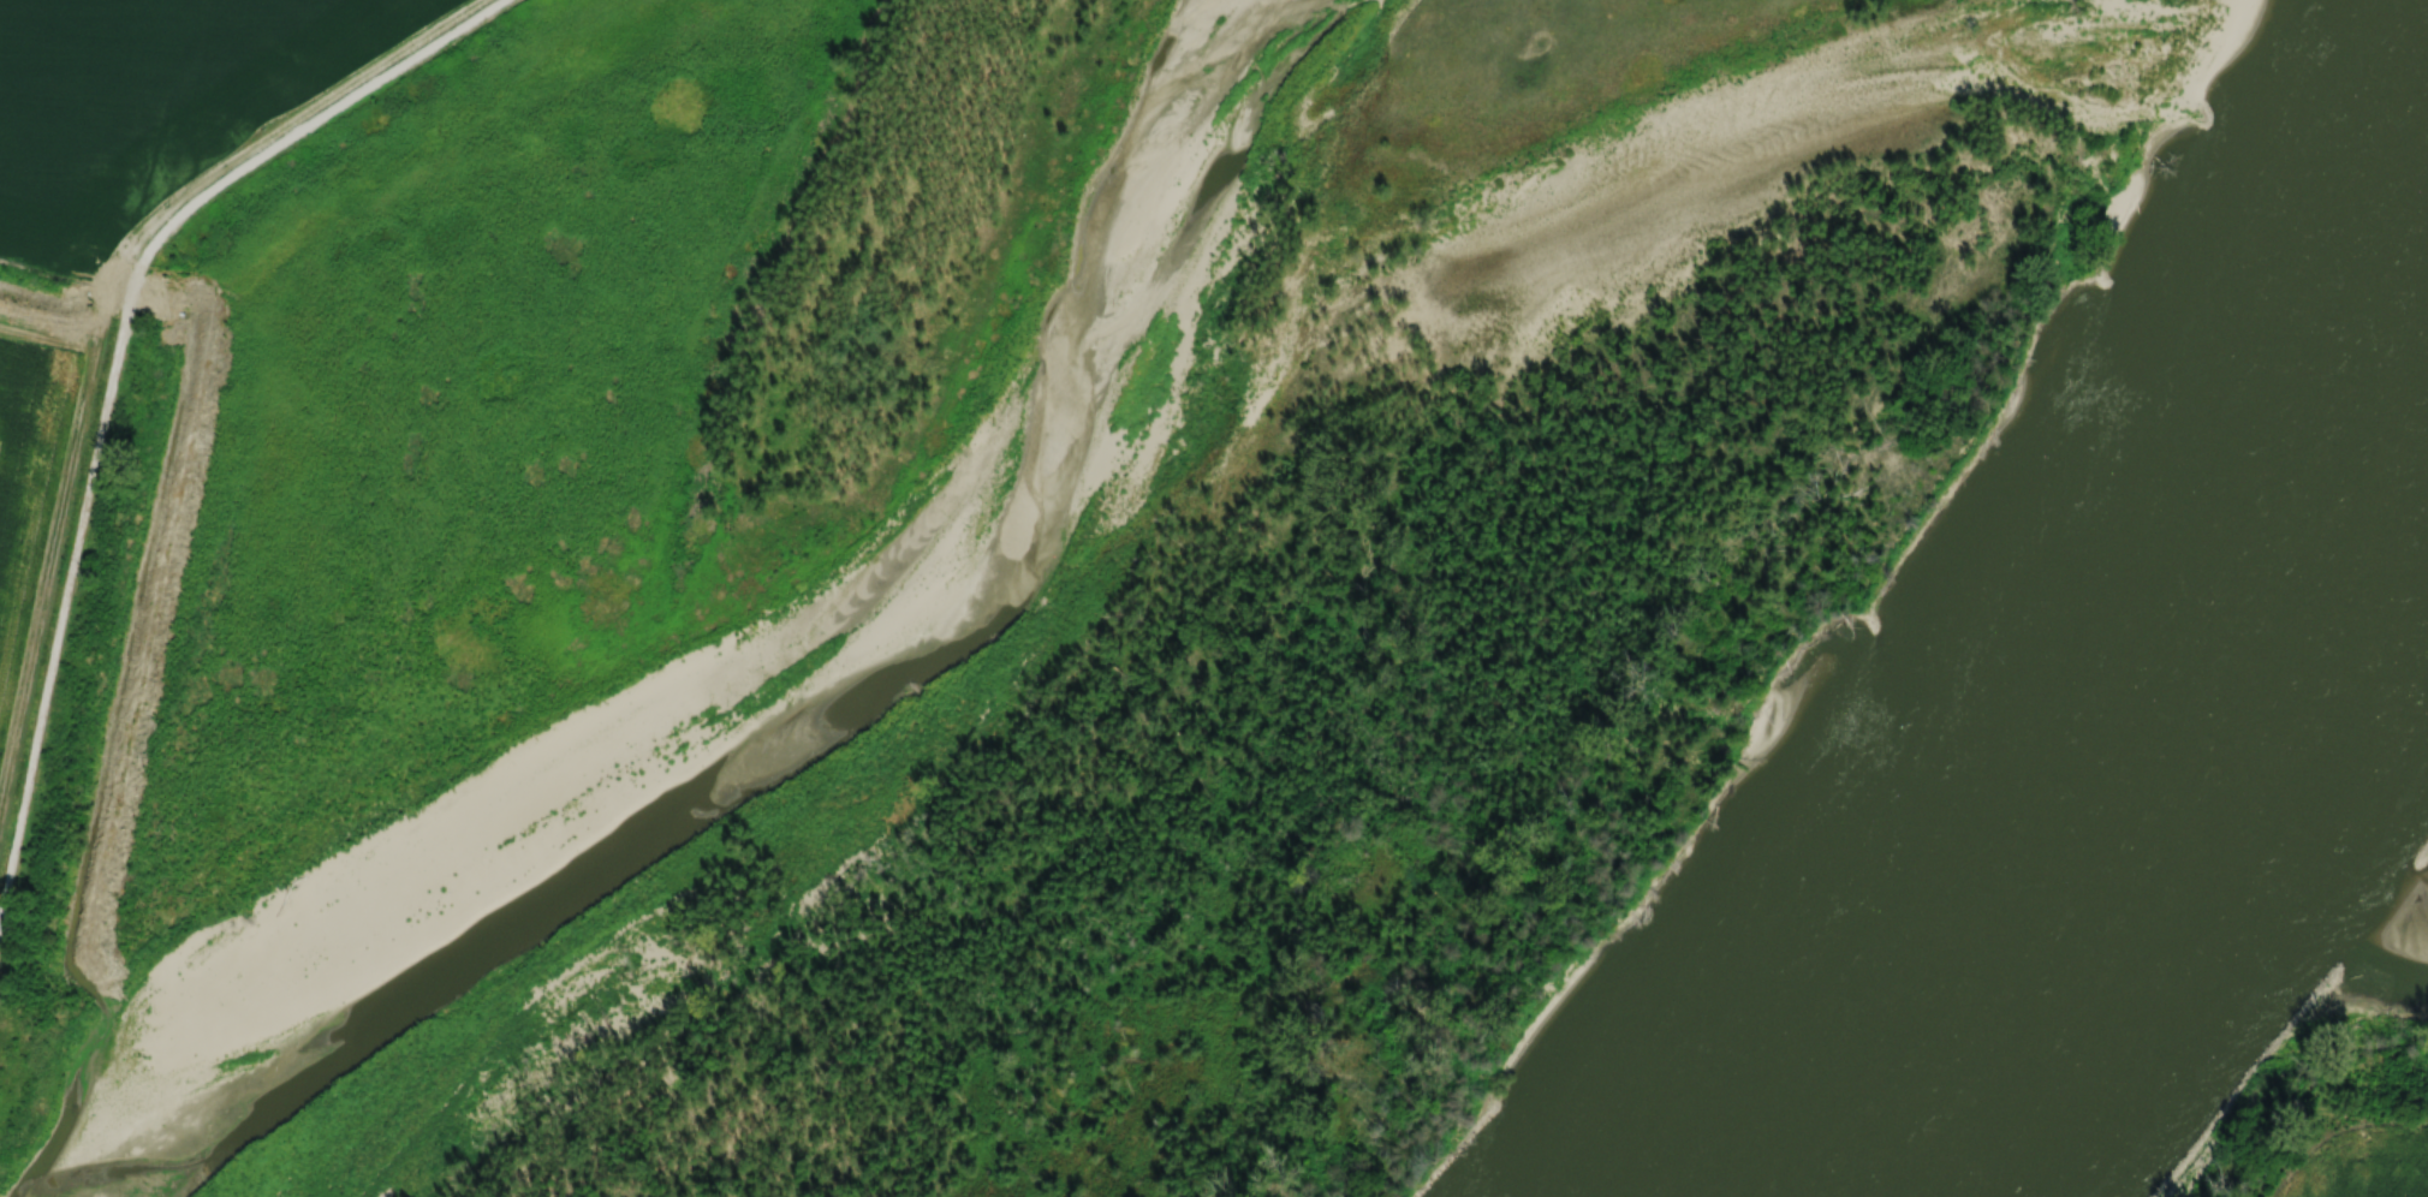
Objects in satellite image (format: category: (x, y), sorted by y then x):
road: (106, 305)
river: (2173, 782)
road: (70, 997)
road: (2409, 1189)

